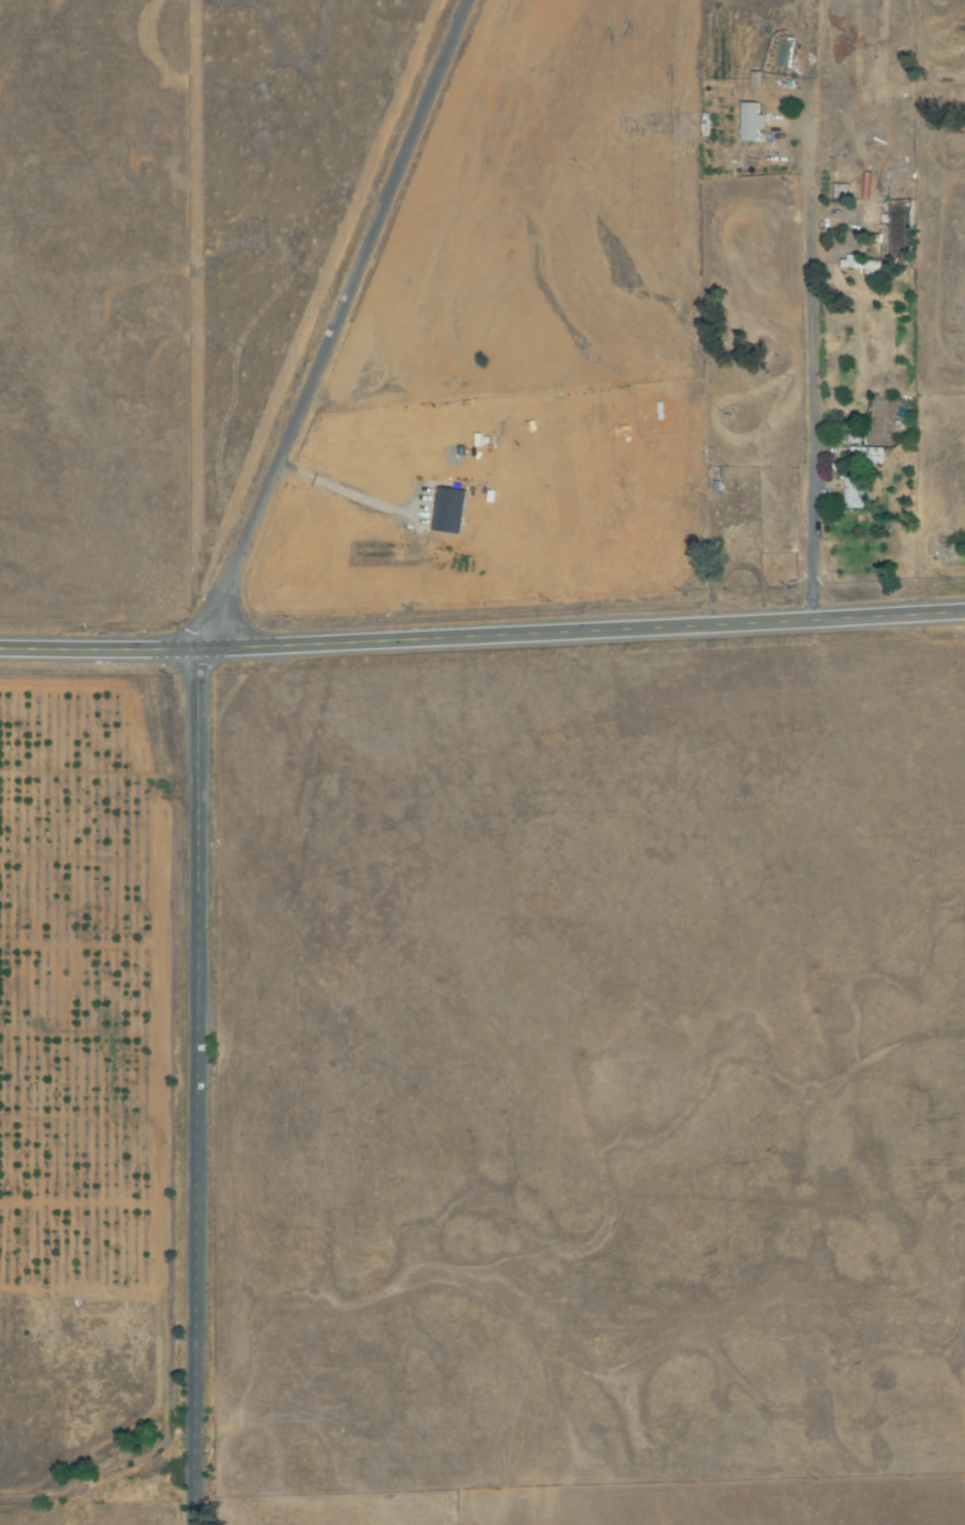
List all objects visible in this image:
building: (751, 121)
building: (842, 191)
road: (894, 267)
road: (829, 400)
building: (867, 445)
building: (854, 495)
road: (482, 638)
road: (194, 735)

